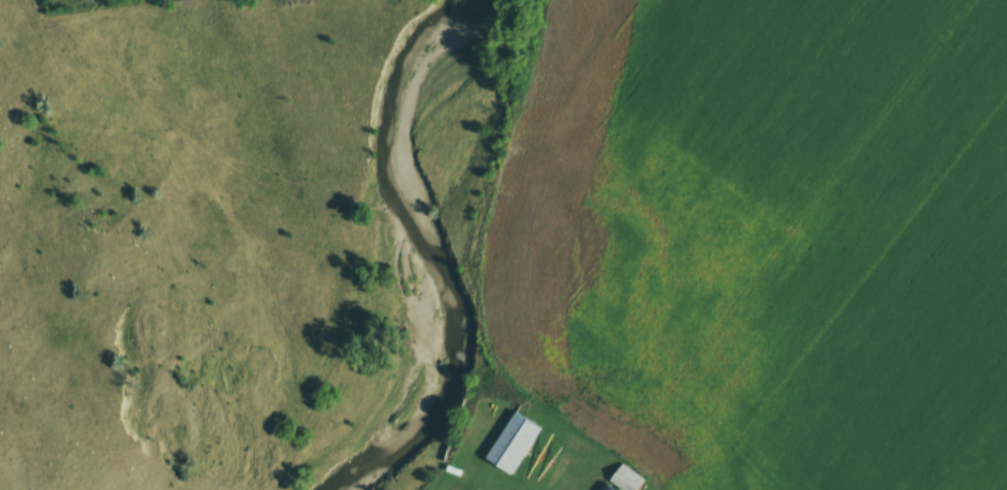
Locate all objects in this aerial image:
crop: (765, 238)
river: (419, 244)

